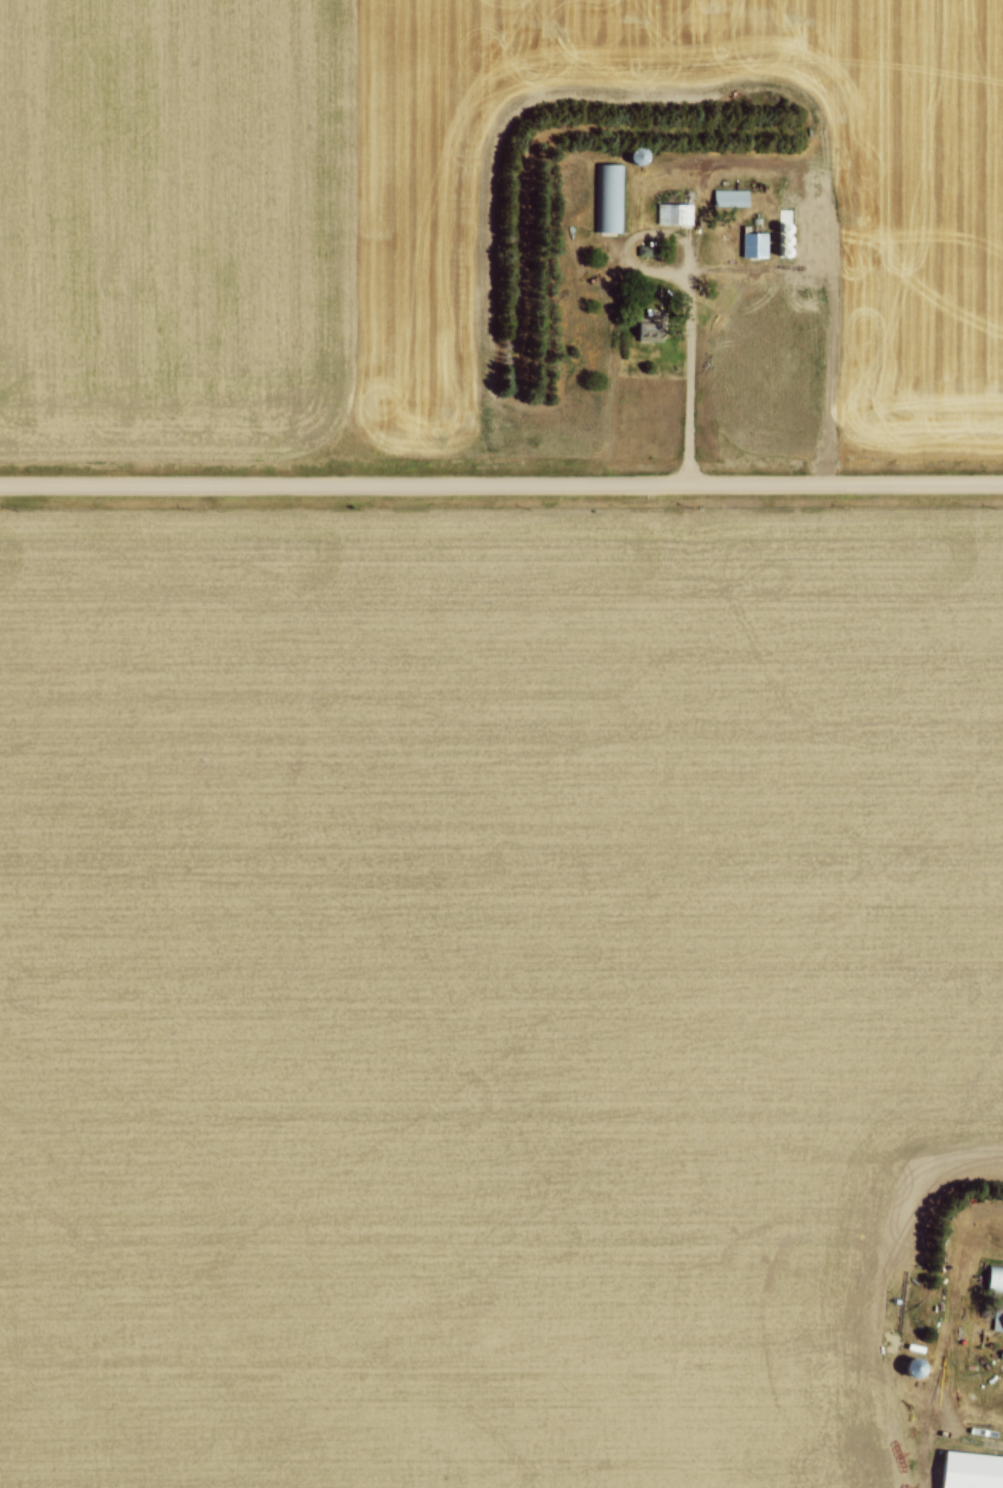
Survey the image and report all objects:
silo: (641, 155)
building: (730, 196)
building: (609, 197)
building: (671, 213)
crop: (457, 219)
road: (658, 231)
building: (754, 243)
road: (689, 374)
road: (501, 482)
crop: (484, 986)
building: (995, 1277)
building: (998, 1318)

